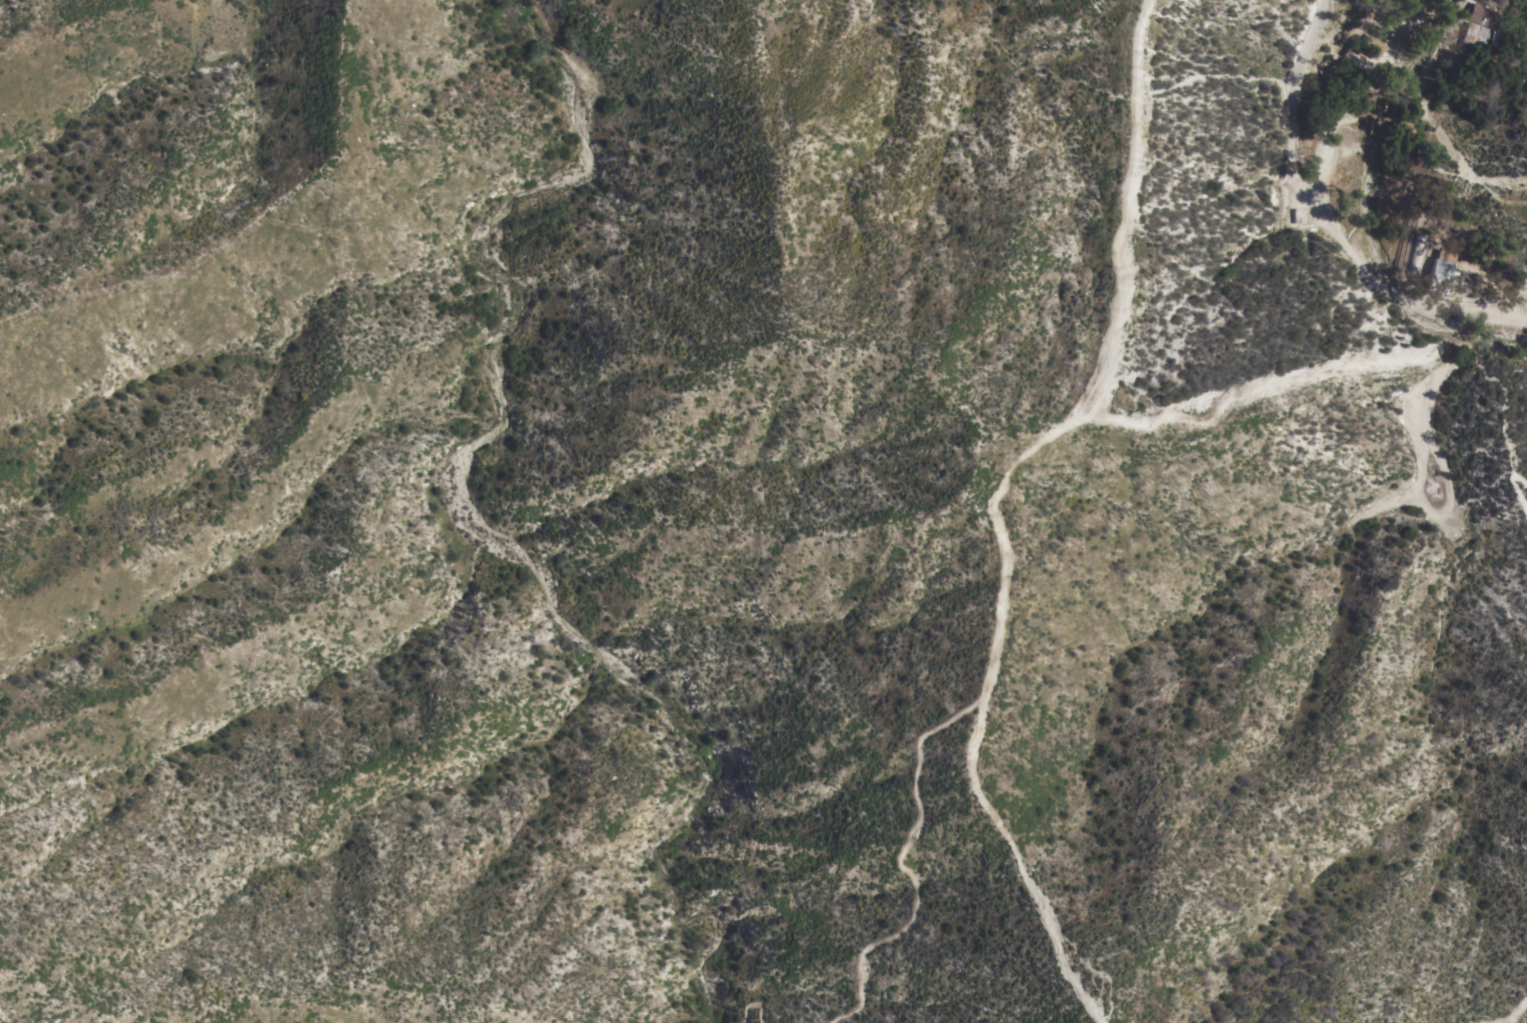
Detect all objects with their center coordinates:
building: (1482, 14)
building: (1475, 34)
building: (1495, 36)
building: (1416, 250)
building: (1439, 270)

